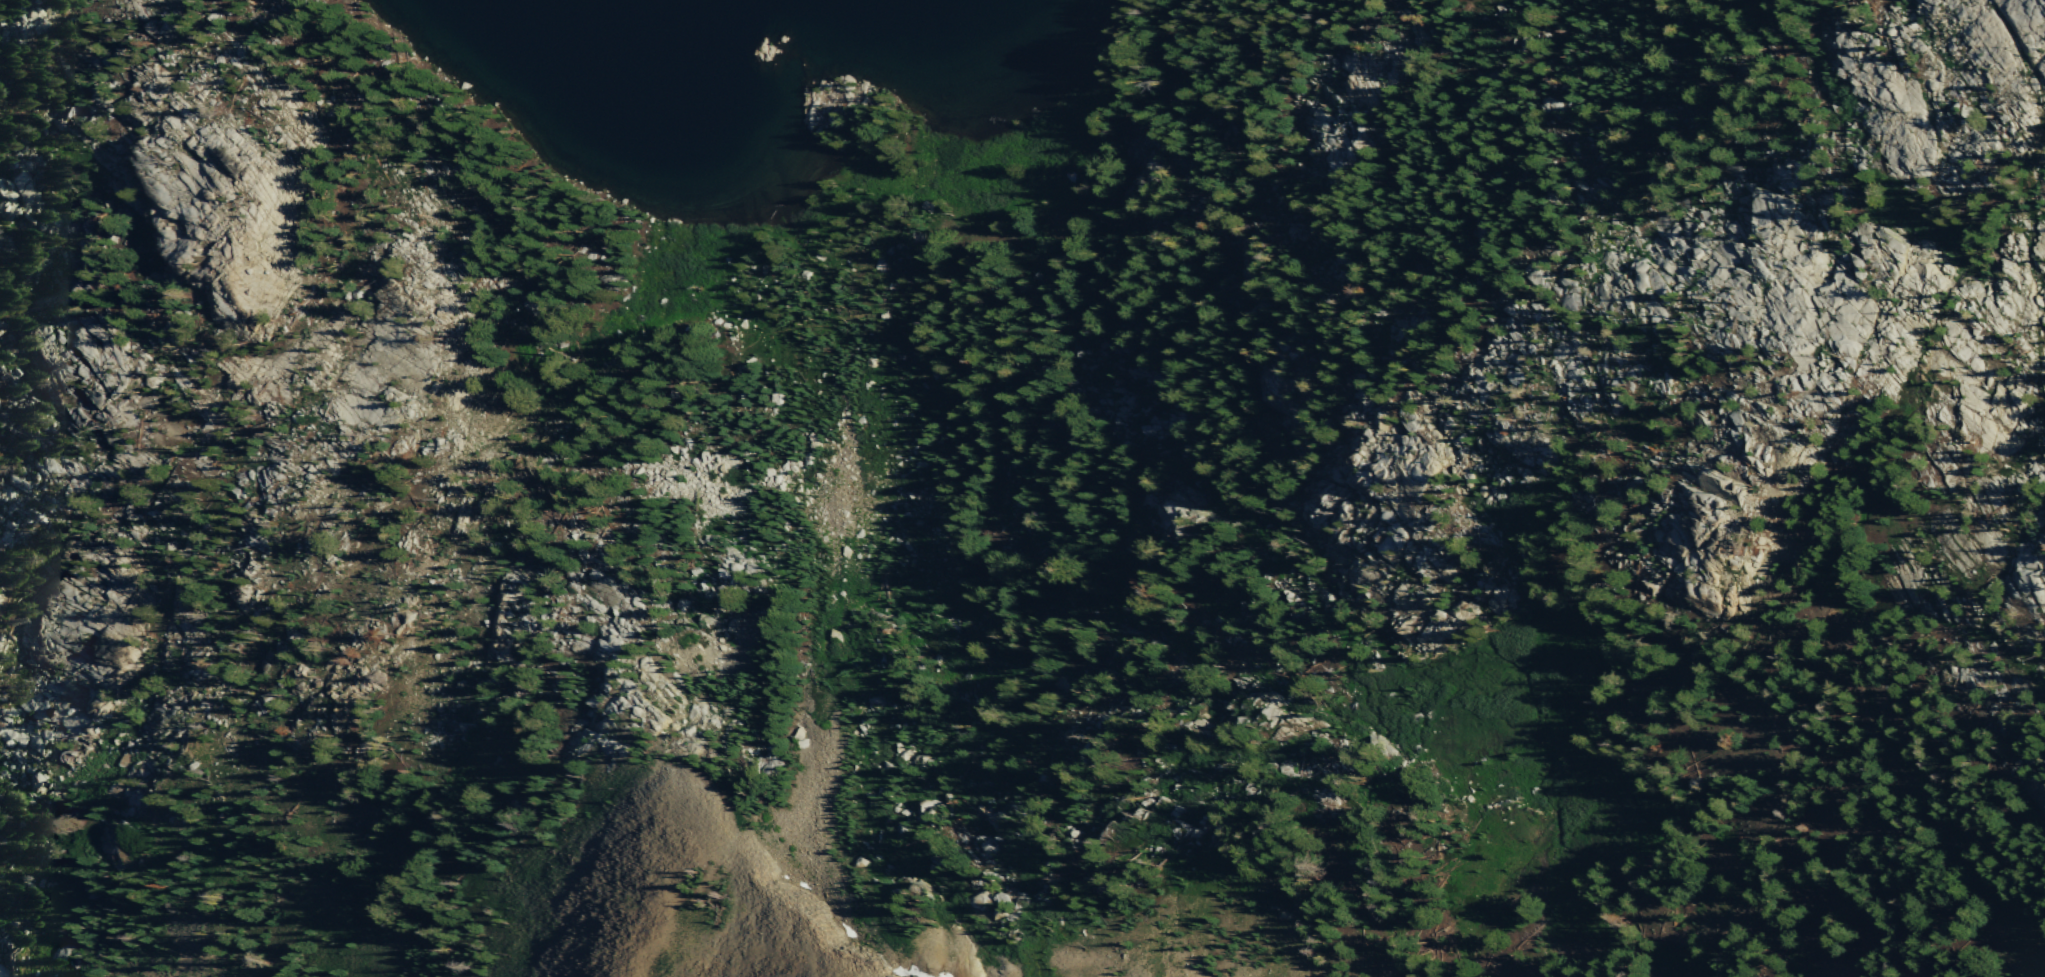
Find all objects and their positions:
road: (811, 314)

